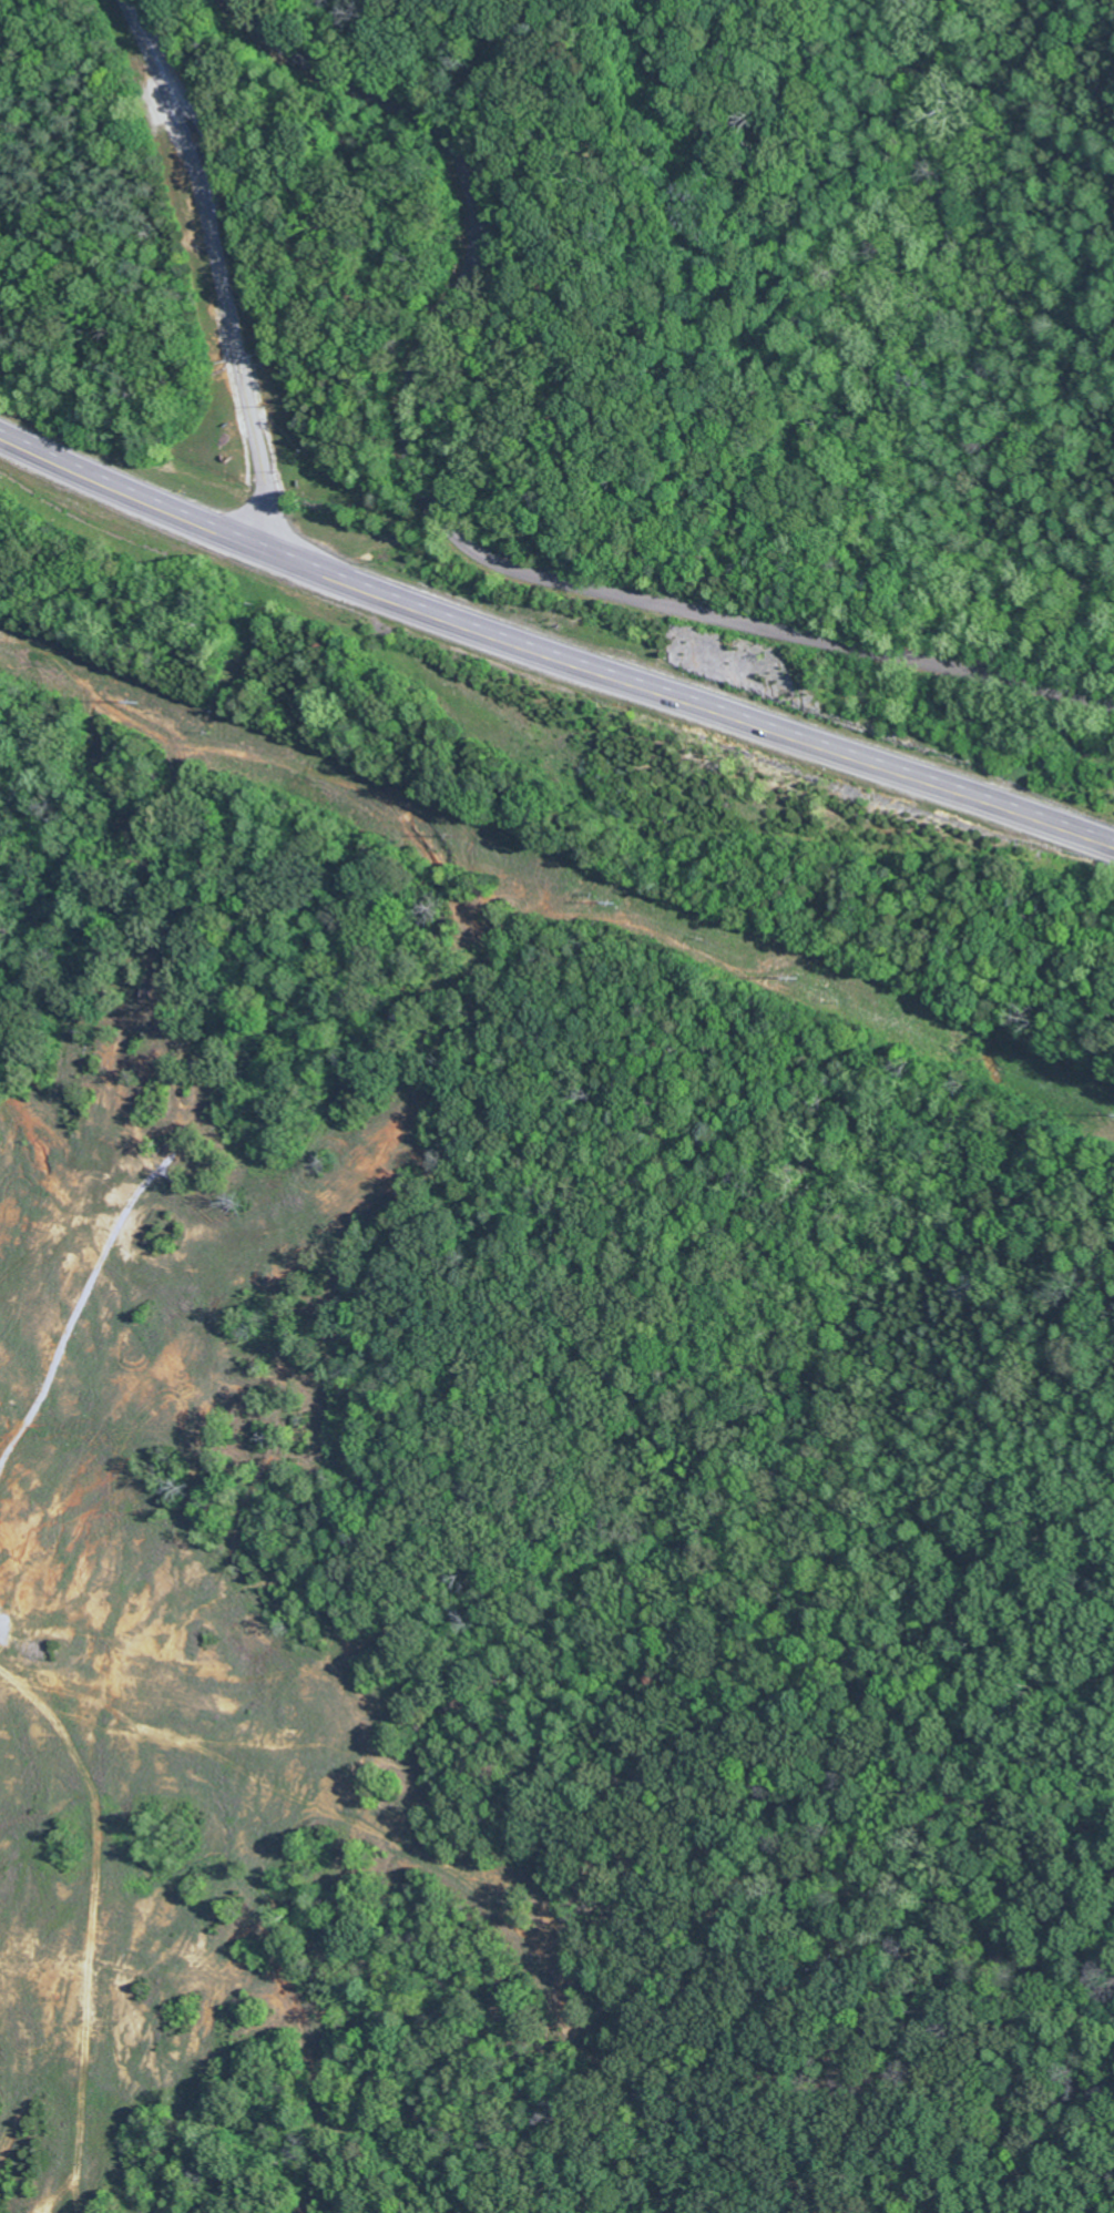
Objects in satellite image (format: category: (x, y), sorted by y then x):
road: (221, 271)
road: (452, 529)
road: (550, 659)

